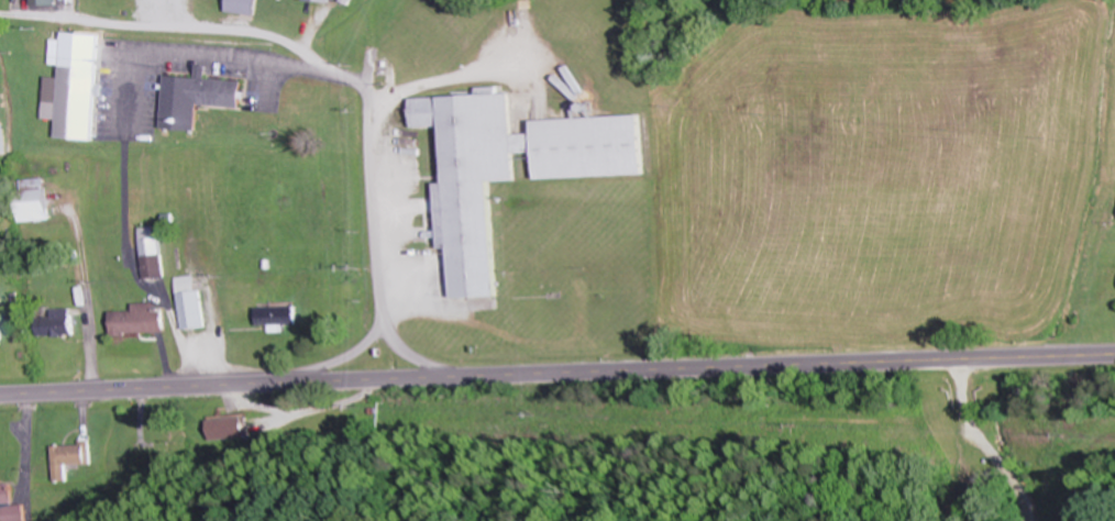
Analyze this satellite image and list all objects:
building: (324, 0)
building: (347, 1)
building: (44, 2)
building: (243, 5)
road: (369, 5)
building: (195, 100)
building: (74, 103)
building: (509, 169)
road: (383, 190)
building: (31, 200)
building: (150, 251)
road: (499, 263)
building: (188, 302)
building: (136, 320)
building: (54, 323)
road: (556, 374)
building: (228, 426)
building: (67, 457)

